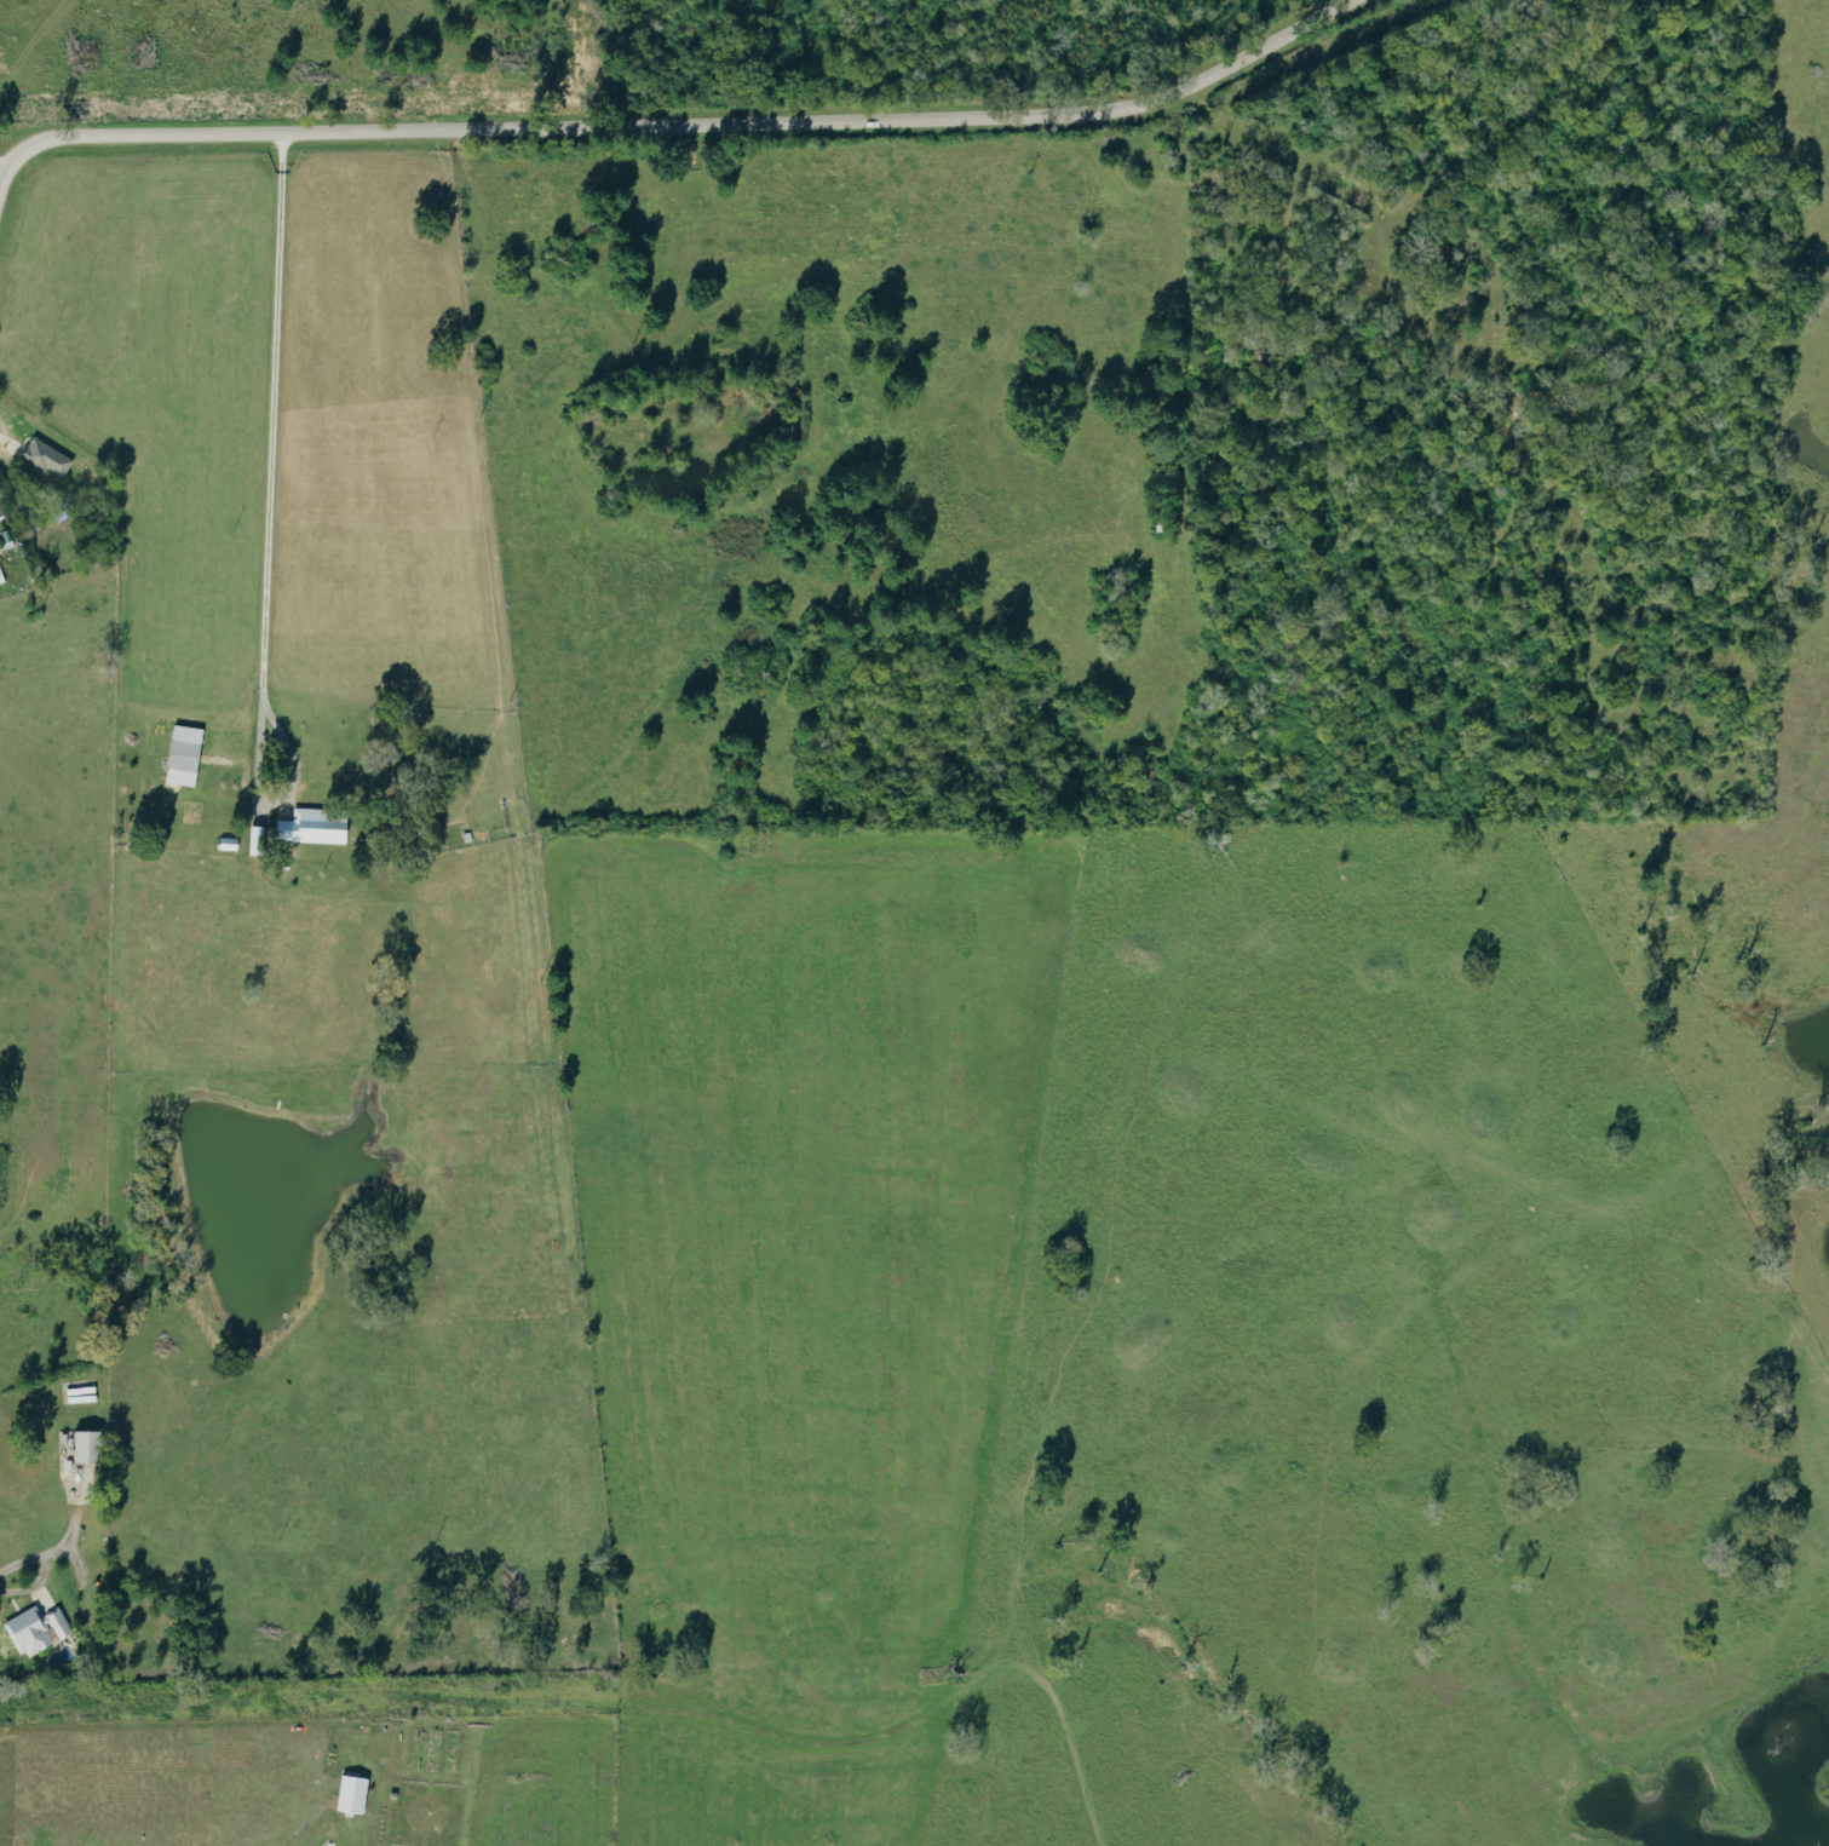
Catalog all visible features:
road: (683, 127)
road: (4, 161)
road: (8, 443)
building: (50, 458)
road: (275, 535)
building: (186, 755)
building: (317, 827)
building: (260, 840)
building: (91, 1447)
road: (11, 1595)
building: (39, 1629)
building: (356, 1794)

